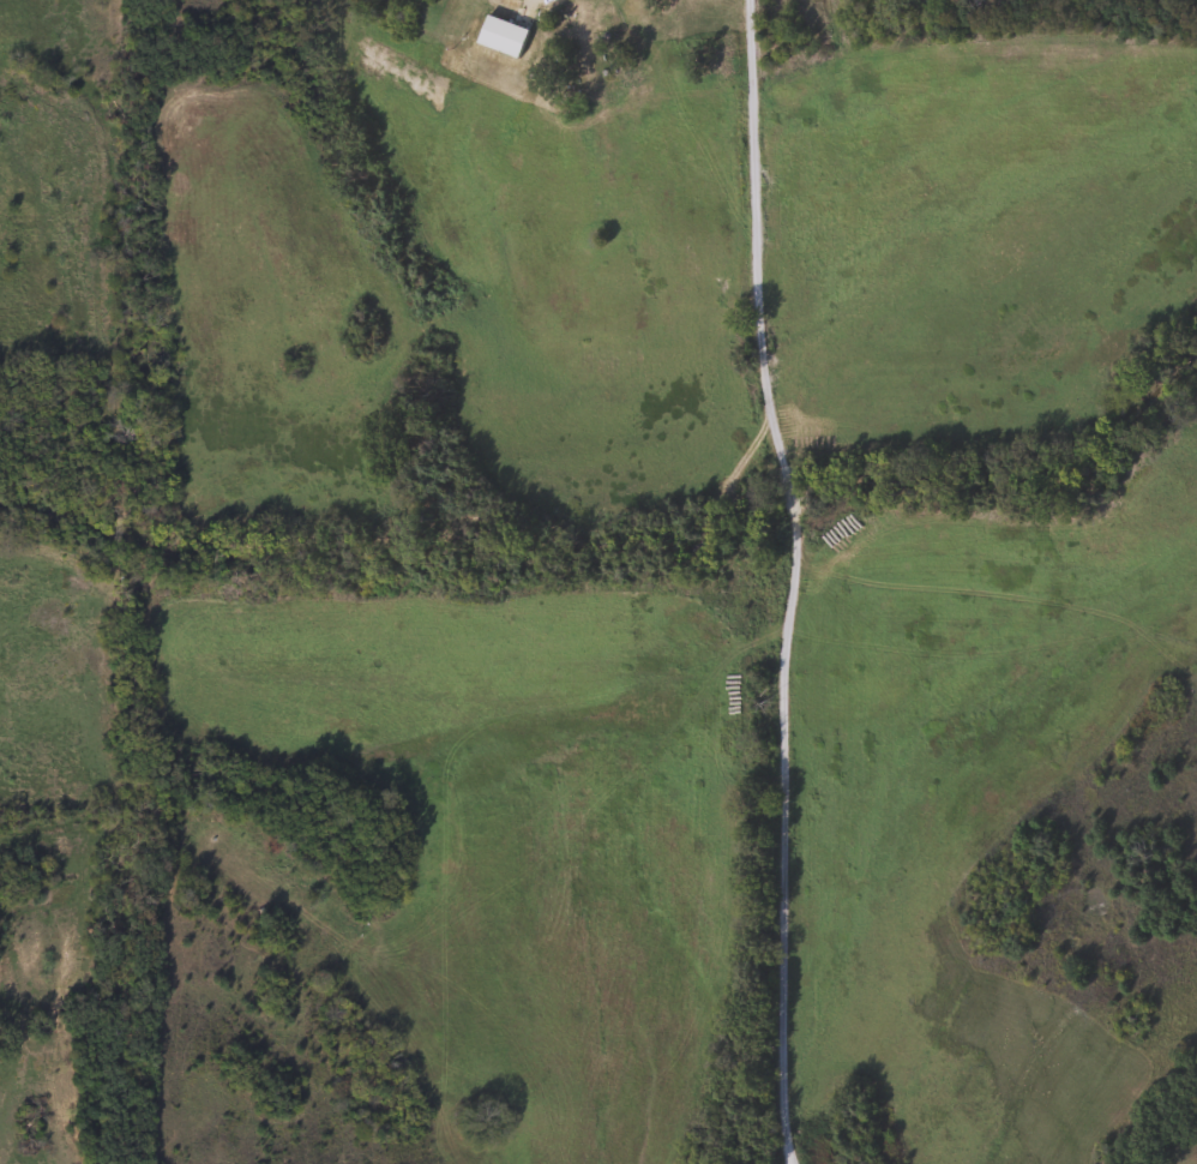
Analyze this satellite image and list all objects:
road: (790, 580)

